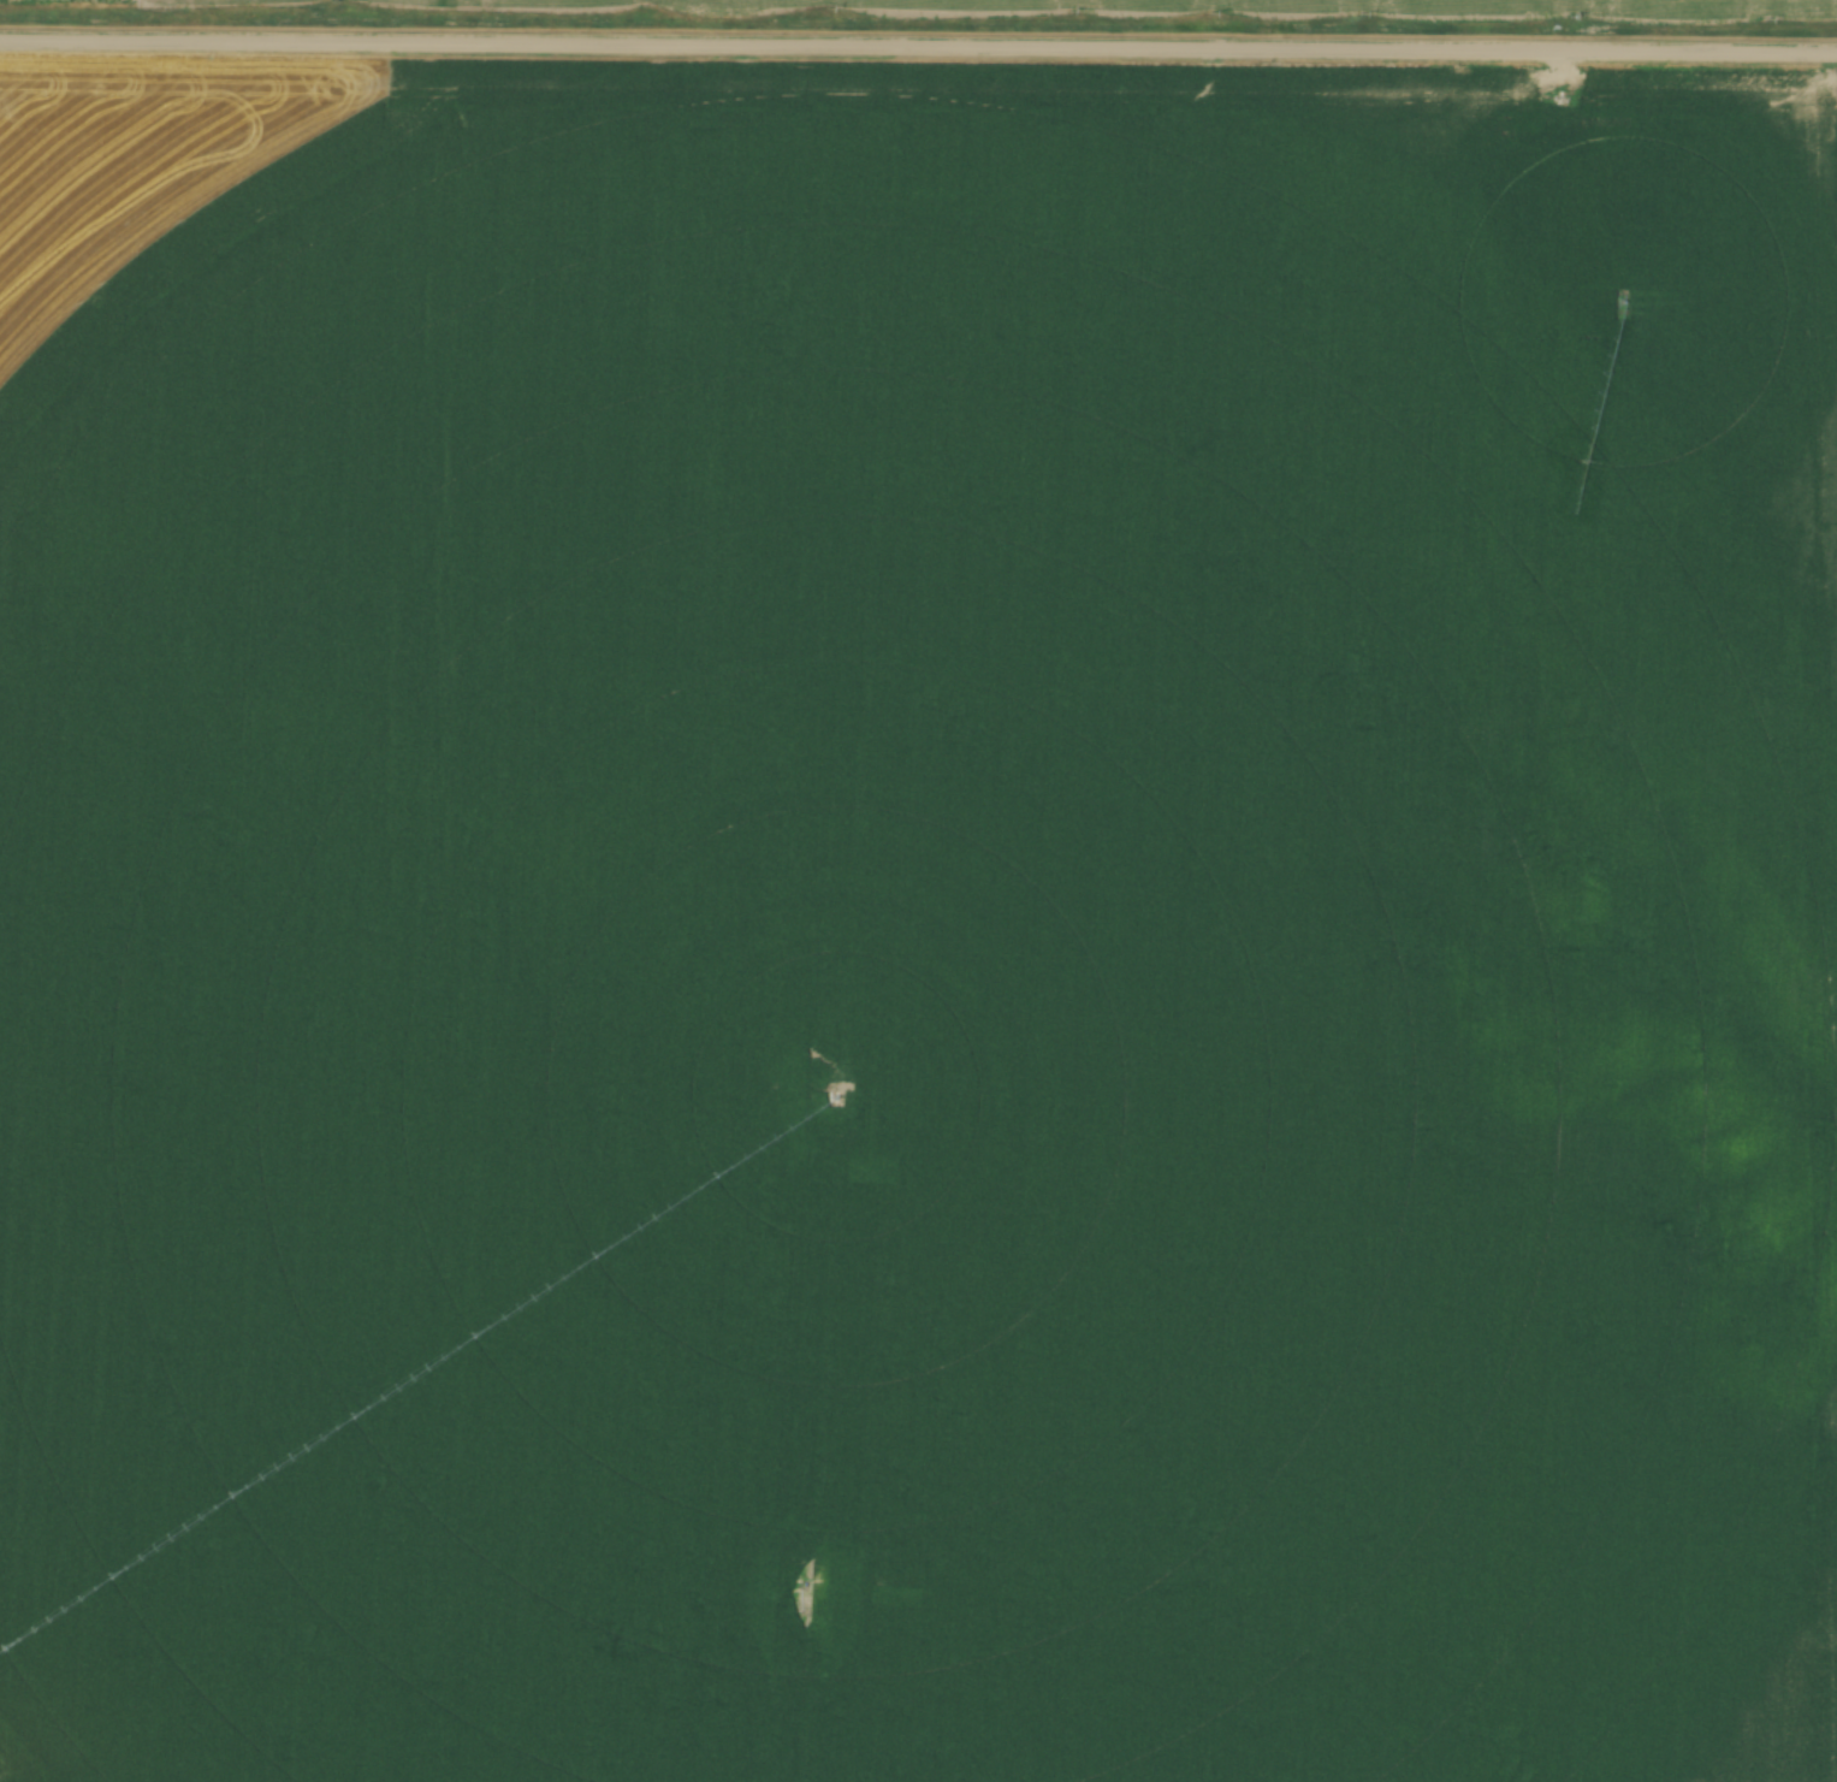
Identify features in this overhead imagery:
crop: (1553, 4)
road: (918, 49)
crop: (142, 155)
crop: (925, 942)

